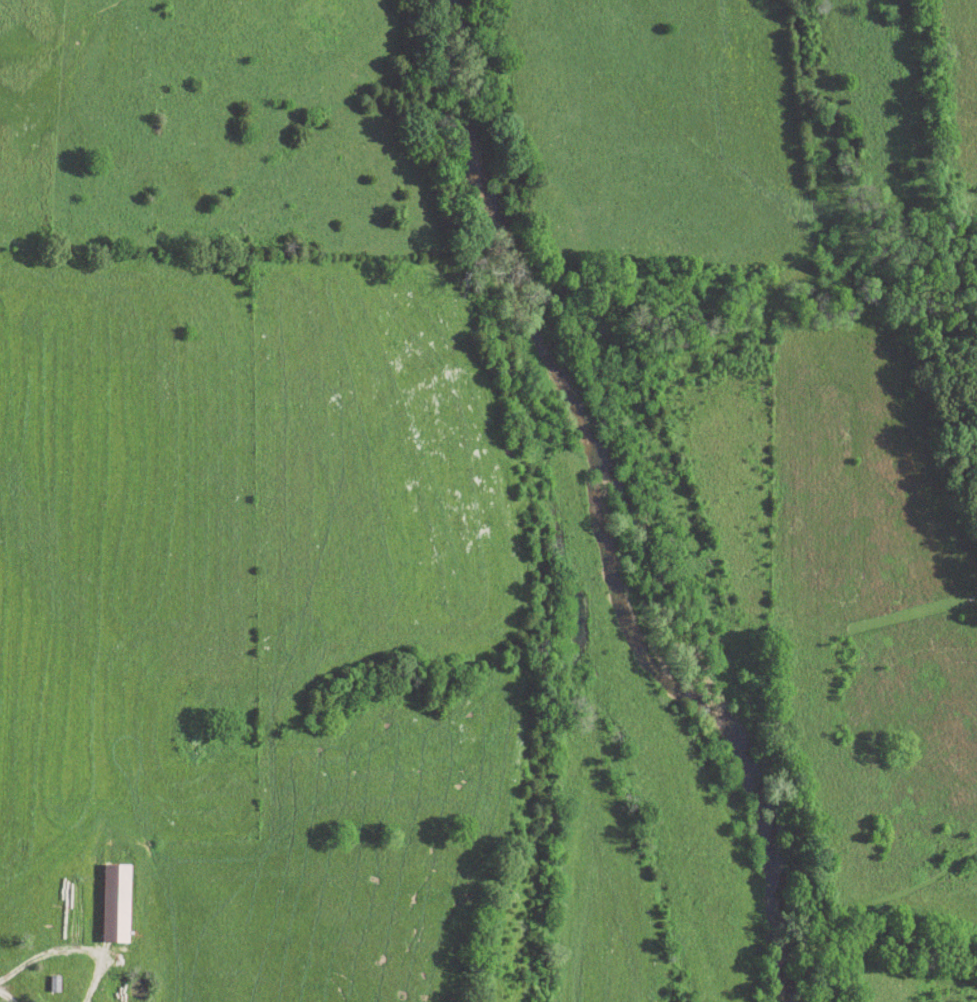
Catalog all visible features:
building: (116, 904)
road: (3, 999)

